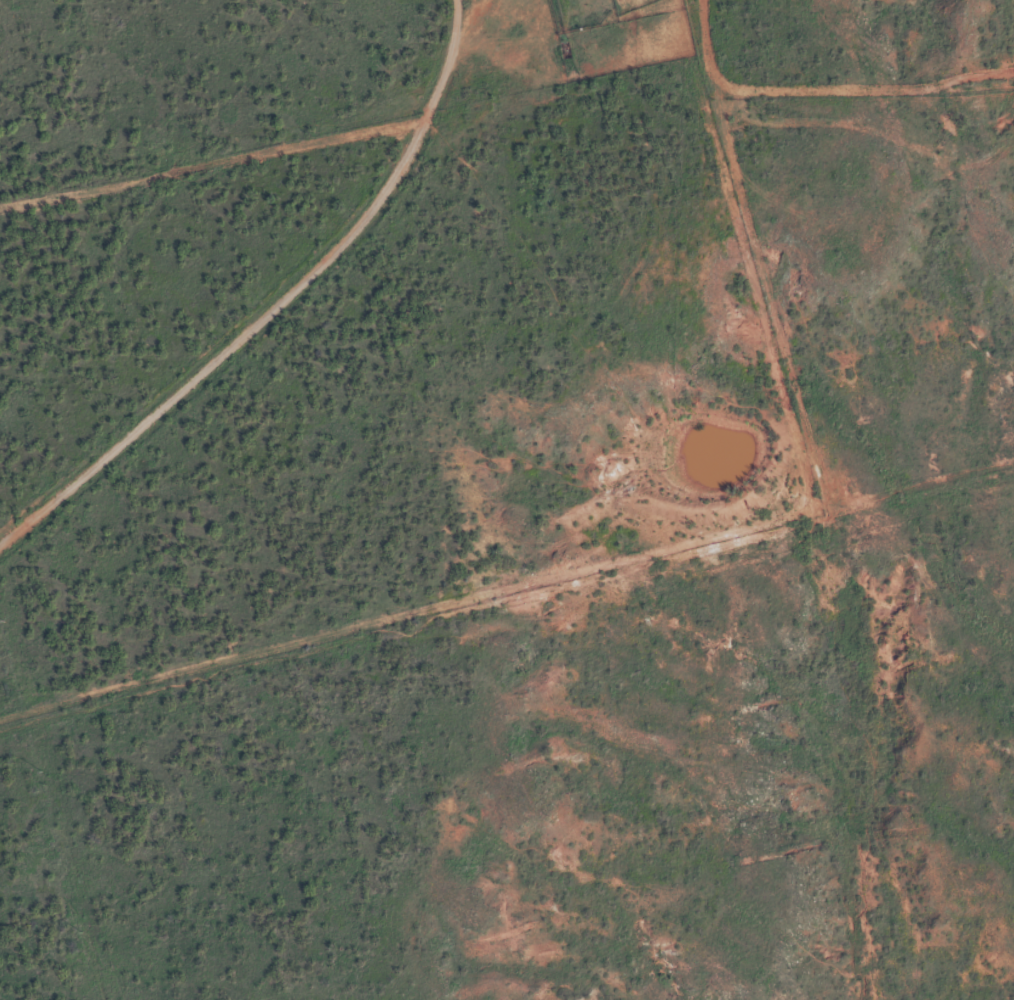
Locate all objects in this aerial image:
road: (731, 110)
road: (273, 311)
road: (29, 718)

